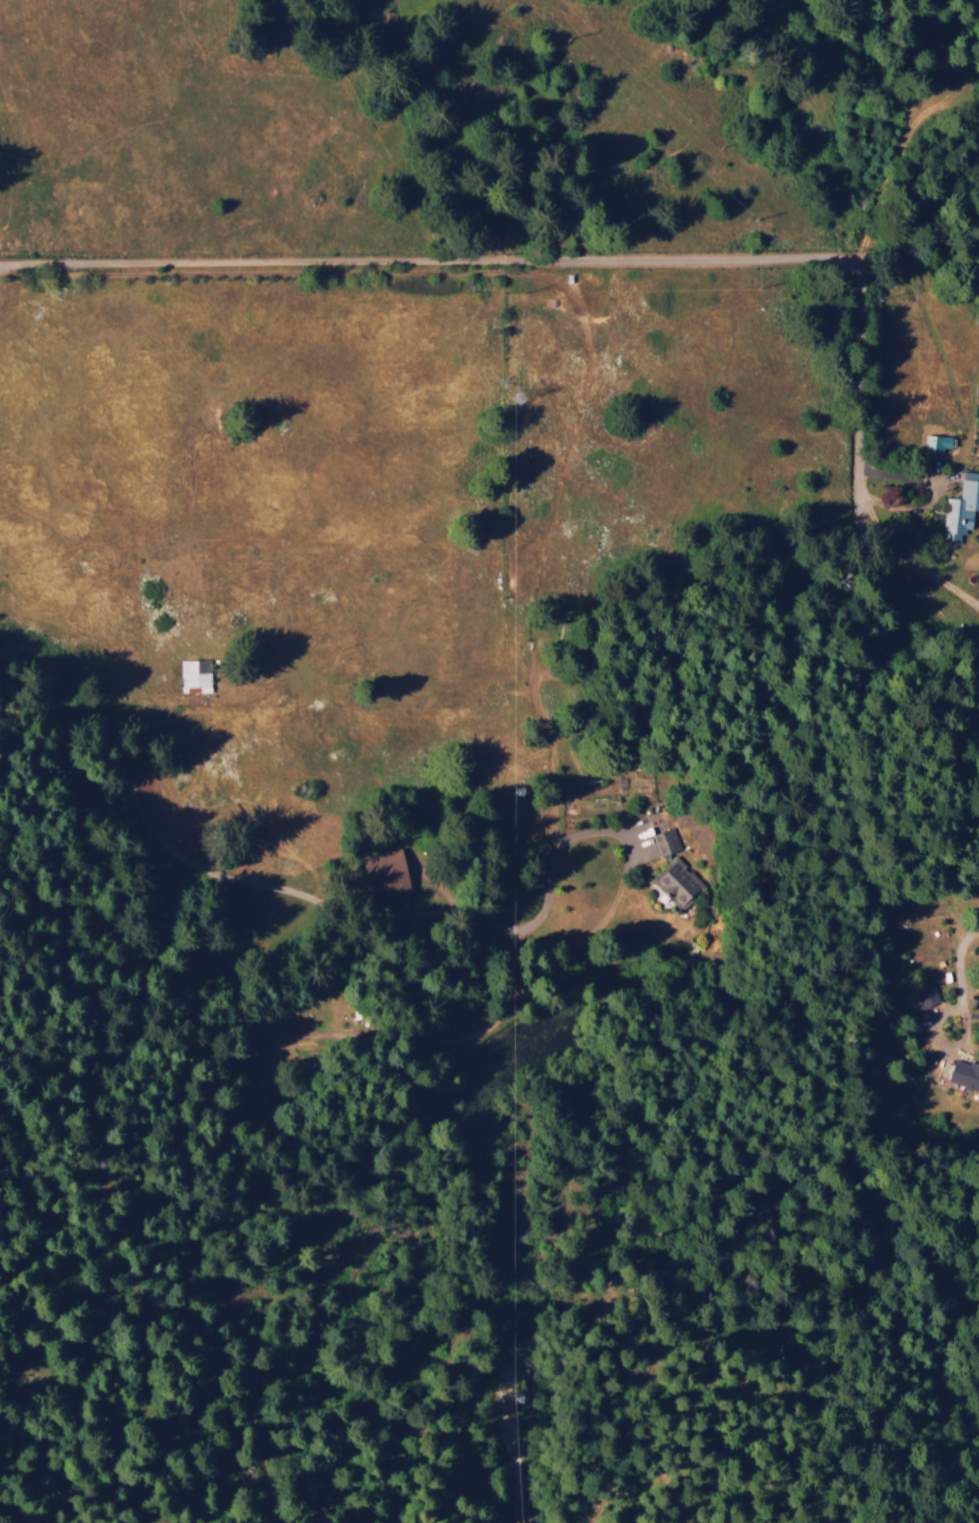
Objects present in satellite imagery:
road: (884, 221)
road: (712, 259)
road: (19, 263)
building: (935, 445)
building: (961, 508)
building: (196, 674)
building: (666, 841)
building: (677, 882)
road: (59, 951)
road: (295, 994)
building: (921, 997)
road: (731, 1061)
building: (965, 1075)

